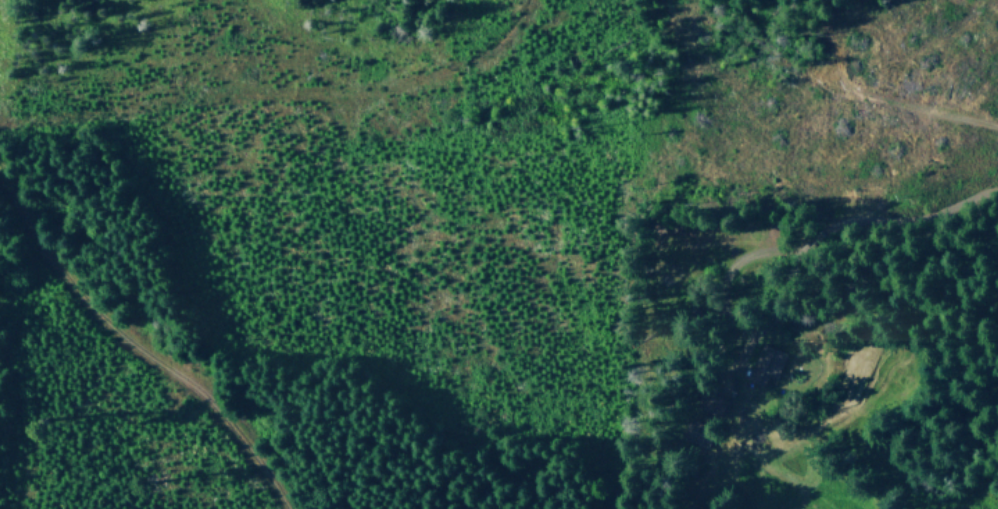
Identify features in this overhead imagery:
building: (765, 364)
building: (696, 432)

